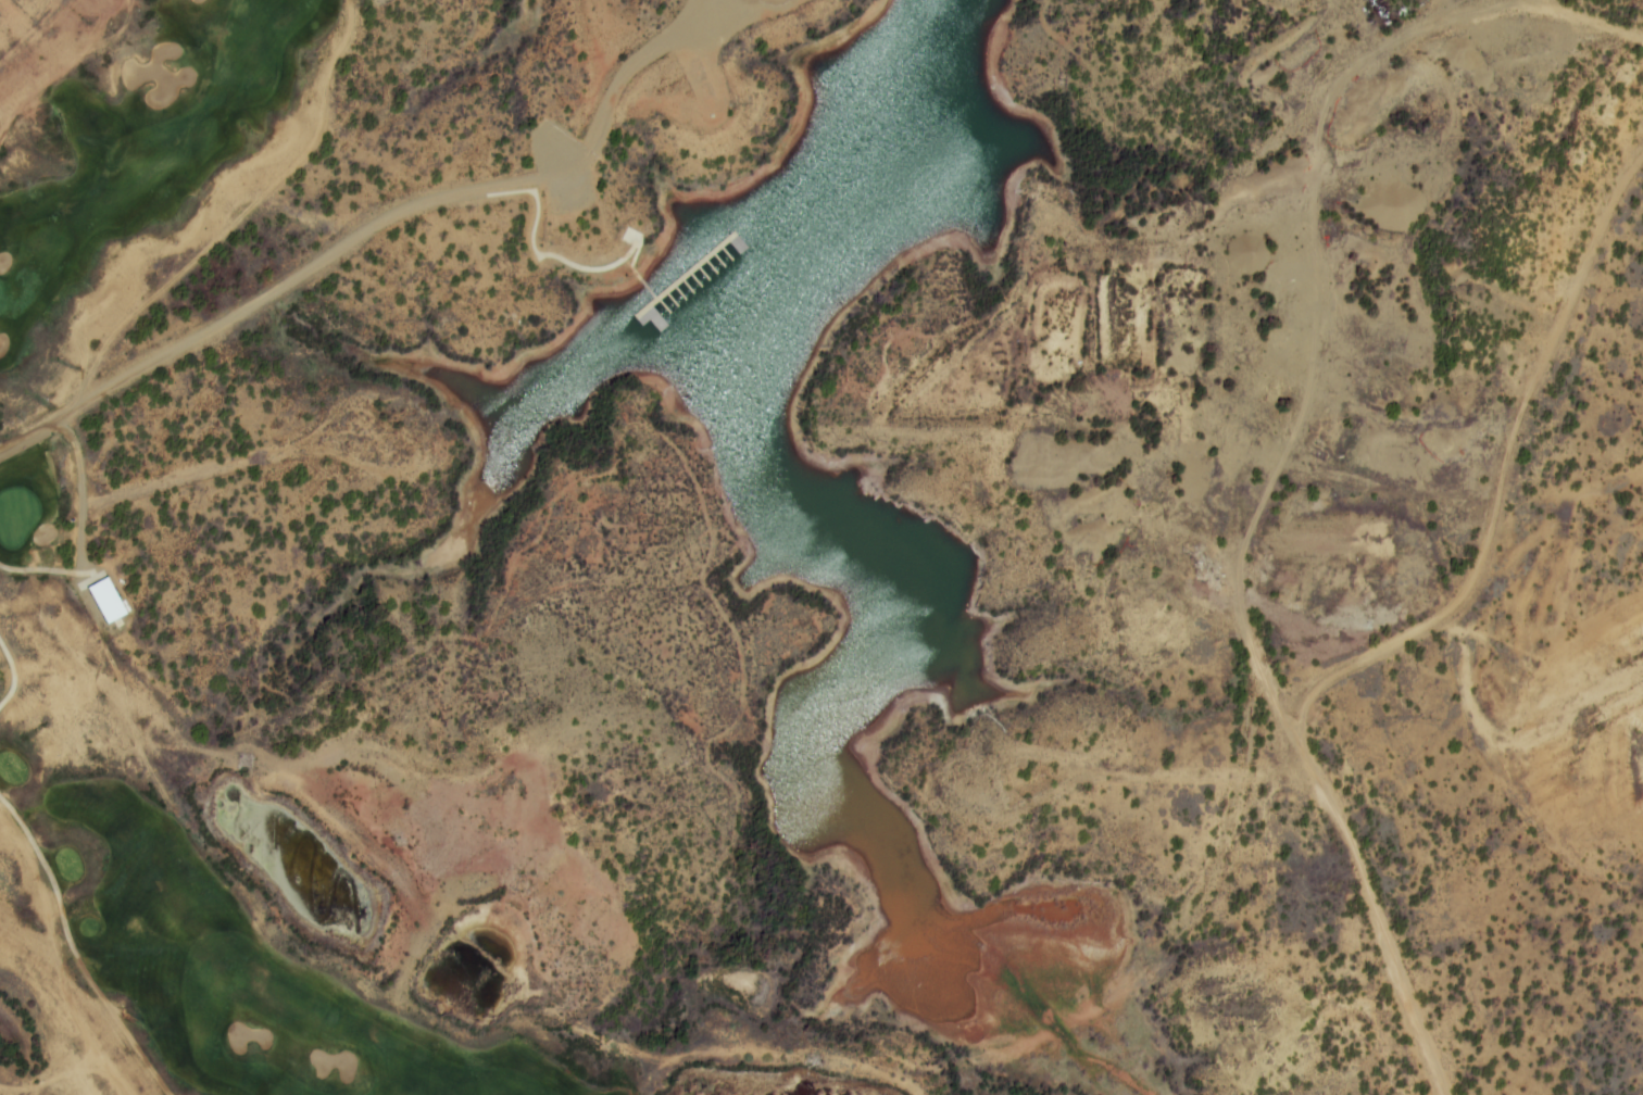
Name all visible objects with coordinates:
road: (68, 71)
road: (373, 224)
park: (54, 533)
road: (47, 570)
building: (104, 601)
road: (13, 675)
road: (1371, 912)
road: (74, 951)

